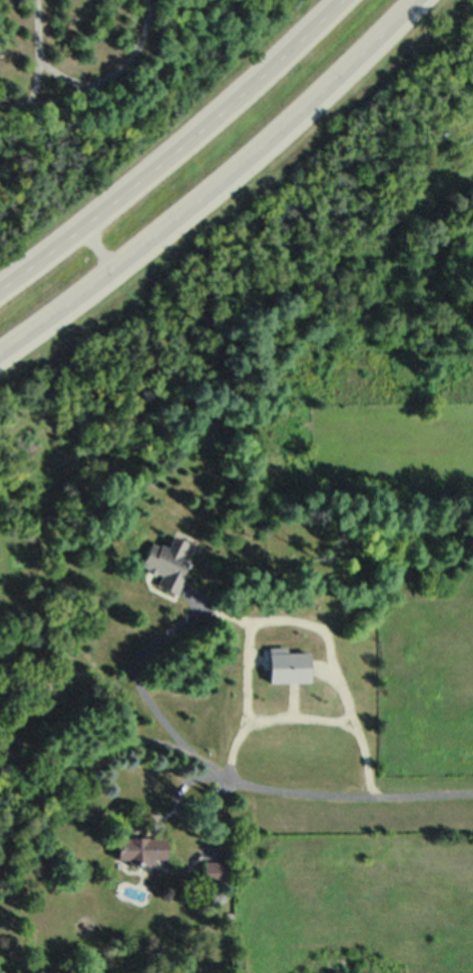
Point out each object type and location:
road: (178, 153)
road: (214, 186)
road: (100, 248)
building: (166, 562)
building: (292, 660)
road: (308, 716)
road: (93, 752)
road: (236, 778)
road: (181, 815)
building: (140, 847)
building: (214, 870)

